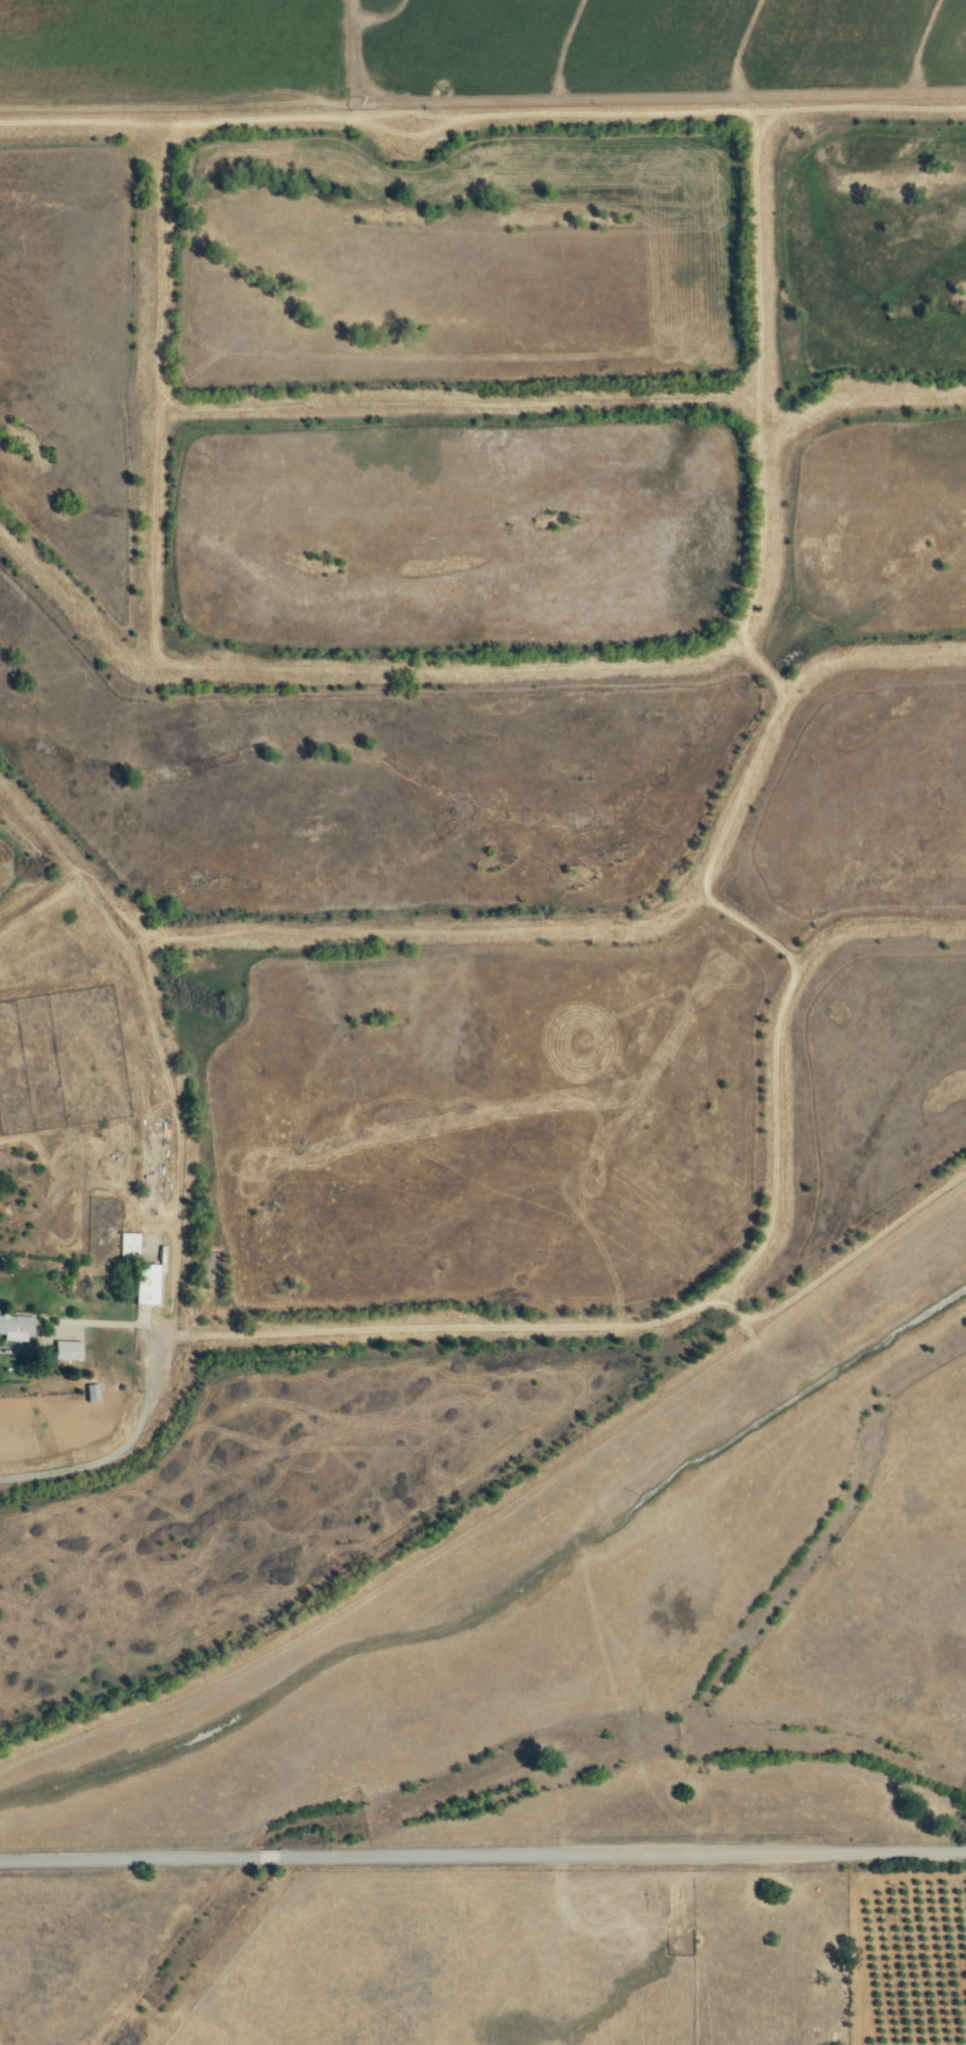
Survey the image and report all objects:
building: (128, 1248)
building: (146, 1285)
building: (16, 1329)
building: (67, 1352)
building: (91, 1394)
road: (483, 1857)

